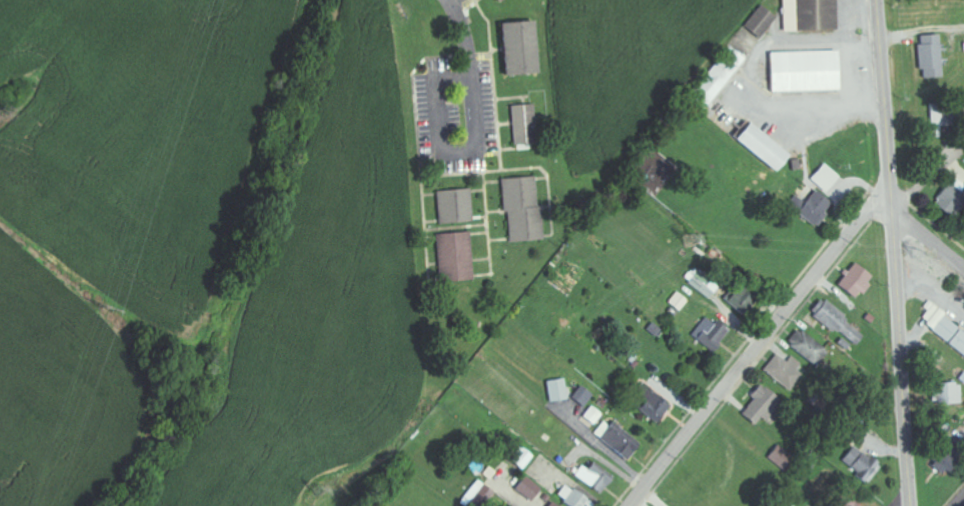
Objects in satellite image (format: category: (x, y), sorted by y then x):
building: (495, 0)
building: (499, 0)
building: (807, 14)
building: (758, 20)
road: (921, 30)
road: (462, 36)
building: (519, 47)
building: (928, 55)
building: (803, 71)
building: (715, 77)
building: (938, 121)
building: (522, 124)
building: (760, 146)
road: (442, 156)
building: (823, 177)
road: (928, 177)
building: (949, 197)
building: (453, 206)
building: (814, 208)
building: (521, 210)
road: (926, 235)
road: (894, 252)
building: (454, 257)
building: (853, 280)
building: (676, 302)
building: (836, 322)
building: (710, 333)
building: (949, 335)
building: (807, 347)
road: (753, 349)
building: (783, 371)
building: (556, 390)
building: (946, 393)
building: (581, 396)
building: (650, 404)
building: (759, 404)
building: (591, 416)
road: (723, 438)
building: (615, 439)
building: (778, 455)
building: (945, 455)
building: (519, 458)
building: (861, 464)
building: (592, 477)
building: (527, 488)
building: (570, 498)
building: (847, 498)
road: (960, 501)
building: (551, 504)

